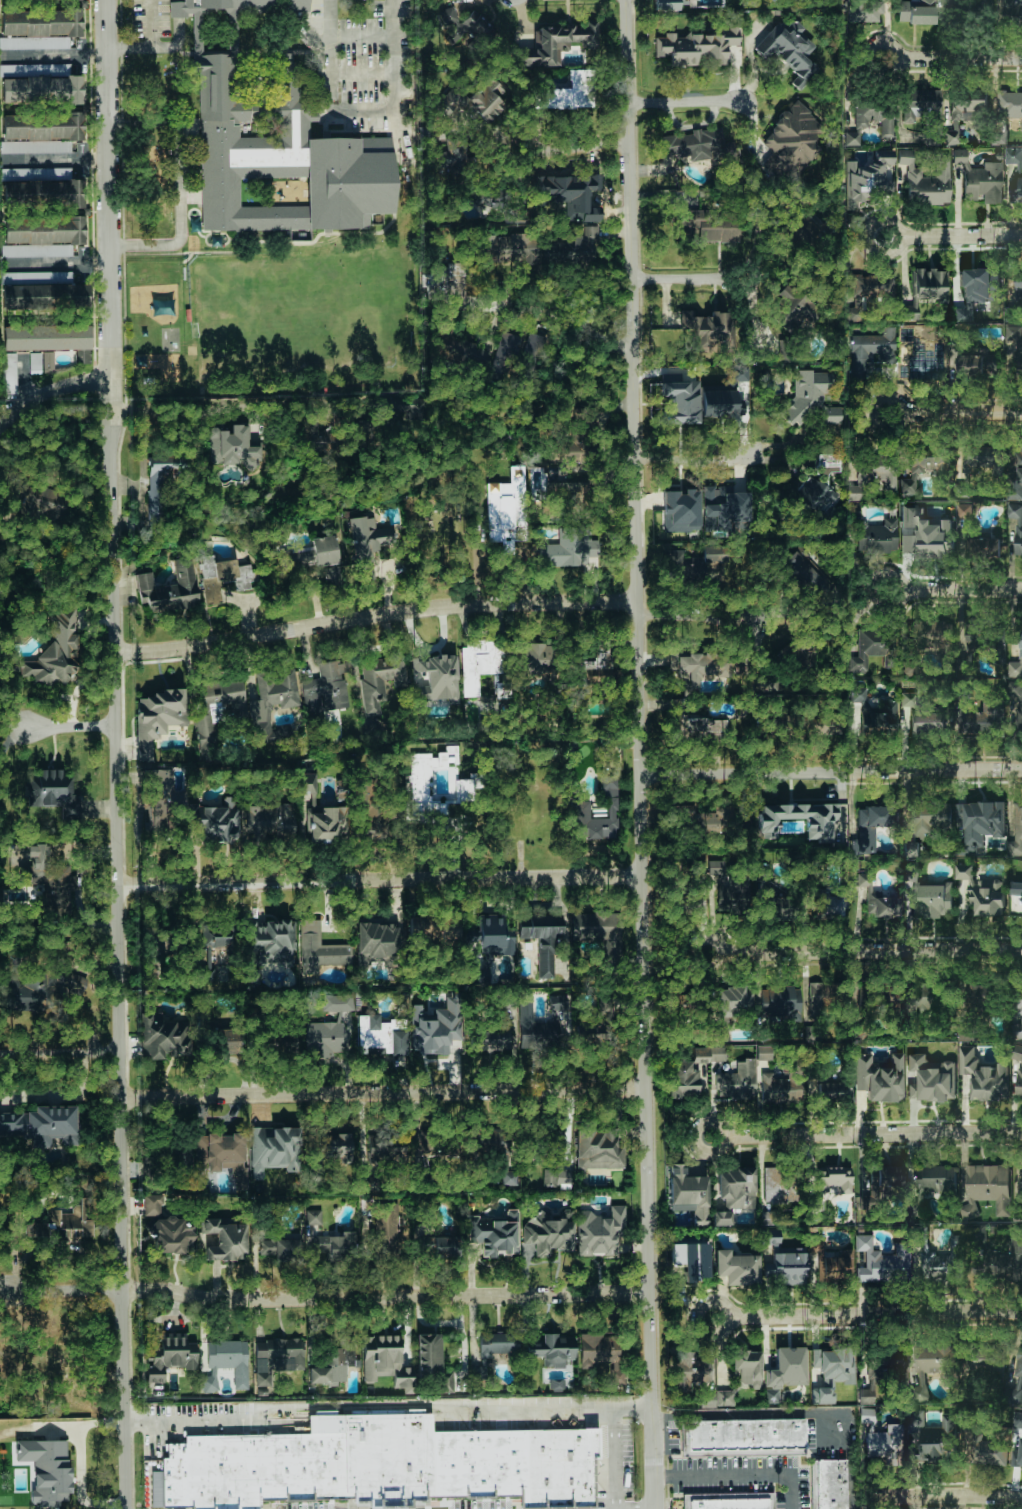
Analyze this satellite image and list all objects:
building: (708, 3)
building: (231, 8)
building: (862, 11)
building: (915, 11)
building: (41, 22)
parking lot: (162, 24)
building: (464, 24)
building: (34, 42)
building: (558, 42)
road: (891, 45)
building: (696, 46)
road: (122, 48)
building: (789, 50)
road: (54, 56)
parking lot: (360, 60)
road: (959, 60)
building: (33, 68)
building: (42, 89)
building: (569, 92)
building: (475, 99)
road: (687, 102)
building: (1009, 103)
building: (968, 105)
building: (926, 108)
road: (362, 112)
building: (875, 115)
building: (1021, 127)
building: (40, 132)
building: (950, 137)
building: (850, 138)
building: (790, 140)
road: (571, 143)
building: (286, 144)
building: (693, 144)
building: (452, 156)
building: (1013, 157)
road: (58, 159)
building: (979, 178)
road: (178, 180)
building: (926, 180)
building: (42, 184)
building: (1014, 186)
building: (587, 215)
building: (706, 225)
road: (951, 234)
building: (41, 235)
building: (508, 247)
building: (571, 248)
road: (58, 264)
road: (688, 279)
building: (871, 285)
building: (929, 285)
building: (979, 285)
building: (45, 295)
building: (793, 307)
park: (301, 314)
road: (579, 322)
building: (706, 328)
building: (48, 339)
building: (1015, 339)
building: (505, 342)
building: (534, 351)
building: (871, 351)
building: (47, 360)
building: (34, 362)
building: (979, 362)
building: (921, 367)
building: (10, 373)
road: (22, 381)
road: (52, 394)
building: (810, 398)
building: (694, 400)
road: (247, 405)
road: (954, 413)
building: (361, 432)
building: (231, 446)
road: (694, 454)
building: (985, 458)
building: (921, 469)
building: (878, 470)
building: (1020, 473)
building: (819, 482)
building: (160, 483)
road: (603, 490)
building: (571, 496)
building: (29, 503)
building: (726, 508)
building: (680, 510)
building: (1016, 524)
building: (921, 535)
building: (877, 536)
building: (369, 542)
building: (568, 547)
building: (987, 547)
building: (522, 550)
building: (310, 553)
building: (691, 563)
building: (804, 572)
building: (223, 576)
building: (168, 588)
road: (954, 589)
road: (433, 607)
building: (937, 637)
building: (57, 644)
building: (862, 652)
building: (535, 659)
building: (479, 662)
building: (1016, 664)
building: (700, 665)
building: (435, 677)
building: (379, 679)
building: (326, 690)
building: (273, 693)
building: (1019, 703)
building: (856, 710)
building: (215, 712)
building: (157, 717)
building: (920, 717)
building: (981, 718)
building: (883, 719)
road: (72, 725)
building: (705, 728)
road: (118, 754)
road: (640, 754)
building: (451, 755)
road: (830, 771)
building: (306, 781)
building: (422, 783)
building: (465, 786)
building: (54, 792)
building: (579, 809)
building: (269, 819)
building: (707, 819)
building: (931, 820)
building: (221, 821)
building: (983, 821)
building: (326, 823)
building: (822, 824)
building: (868, 826)
building: (1016, 834)
building: (910, 849)
building: (44, 867)
building: (964, 871)
road: (381, 879)
building: (729, 893)
building: (987, 896)
building: (1016, 896)
building: (694, 897)
building: (878, 899)
building: (932, 901)
building: (772, 903)
building: (828, 907)
building: (432, 928)
building: (596, 931)
building: (269, 941)
road: (717, 942)
building: (377, 943)
building: (319, 947)
building: (220, 948)
road: (872, 950)
building: (42, 986)
building: (817, 994)
building: (983, 994)
building: (559, 1000)
building: (777, 1000)
building: (1018, 1017)
building: (330, 1021)
building: (541, 1024)
building: (435, 1026)
building: (492, 1031)
building: (965, 1033)
building: (380, 1035)
building: (162, 1038)
building: (229, 1042)
road: (61, 1052)
building: (707, 1053)
building: (1018, 1075)
building: (878, 1076)
building: (983, 1076)
building: (930, 1078)
building: (682, 1079)
building: (737, 1080)
building: (783, 1083)
building: (825, 1087)
road: (384, 1091)
building: (41, 1124)
road: (722, 1126)
road: (874, 1136)
building: (334, 1146)
building: (273, 1149)
building: (440, 1149)
building: (597, 1149)
building: (387, 1150)
building: (222, 1155)
building: (151, 1161)
building: (508, 1176)
building: (548, 1177)
building: (563, 1178)
building: (367, 1179)
building: (831, 1182)
building: (934, 1182)
building: (880, 1184)
building: (781, 1186)
building: (735, 1187)
building: (985, 1188)
building: (313, 1216)
building: (721, 1217)
building: (66, 1222)
building: (165, 1226)
building: (388, 1229)
building: (598, 1231)
building: (547, 1233)
building: (493, 1235)
building: (224, 1239)
building: (439, 1243)
building: (342, 1245)
building: (320, 1246)
building: (280, 1249)
building: (690, 1259)
building: (828, 1260)
building: (879, 1261)
building: (944, 1262)
building: (1000, 1263)
building: (736, 1267)
road: (335, 1298)
road: (724, 1307)
road: (875, 1312)
building: (497, 1343)
building: (548, 1349)
building: (599, 1352)
building: (427, 1354)
building: (169, 1355)
building: (275, 1357)
building: (384, 1359)
building: (225, 1363)
building: (330, 1364)
building: (834, 1365)
building: (482, 1366)
building: (934, 1367)
building: (690, 1370)
building: (784, 1371)
building: (883, 1374)
building: (736, 1378)
building: (1016, 1380)
building: (821, 1395)
road: (388, 1403)
road: (789, 1415)
building: (866, 1415)
building: (744, 1436)
building: (934, 1436)
building: (886, 1444)
building: (990, 1452)
road: (611, 1457)
building: (1016, 1457)
building: (373, 1460)
road: (81, 1463)
building: (45, 1468)
road: (739, 1474)
building: (828, 1484)
road: (943, 1495)
building: (727, 1500)

